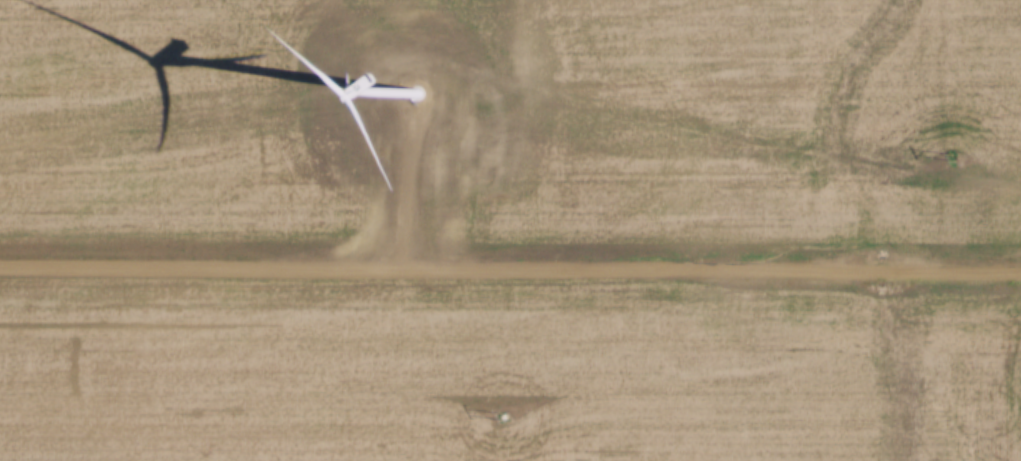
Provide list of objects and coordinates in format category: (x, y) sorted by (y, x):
wind turbine: (397, 87)

